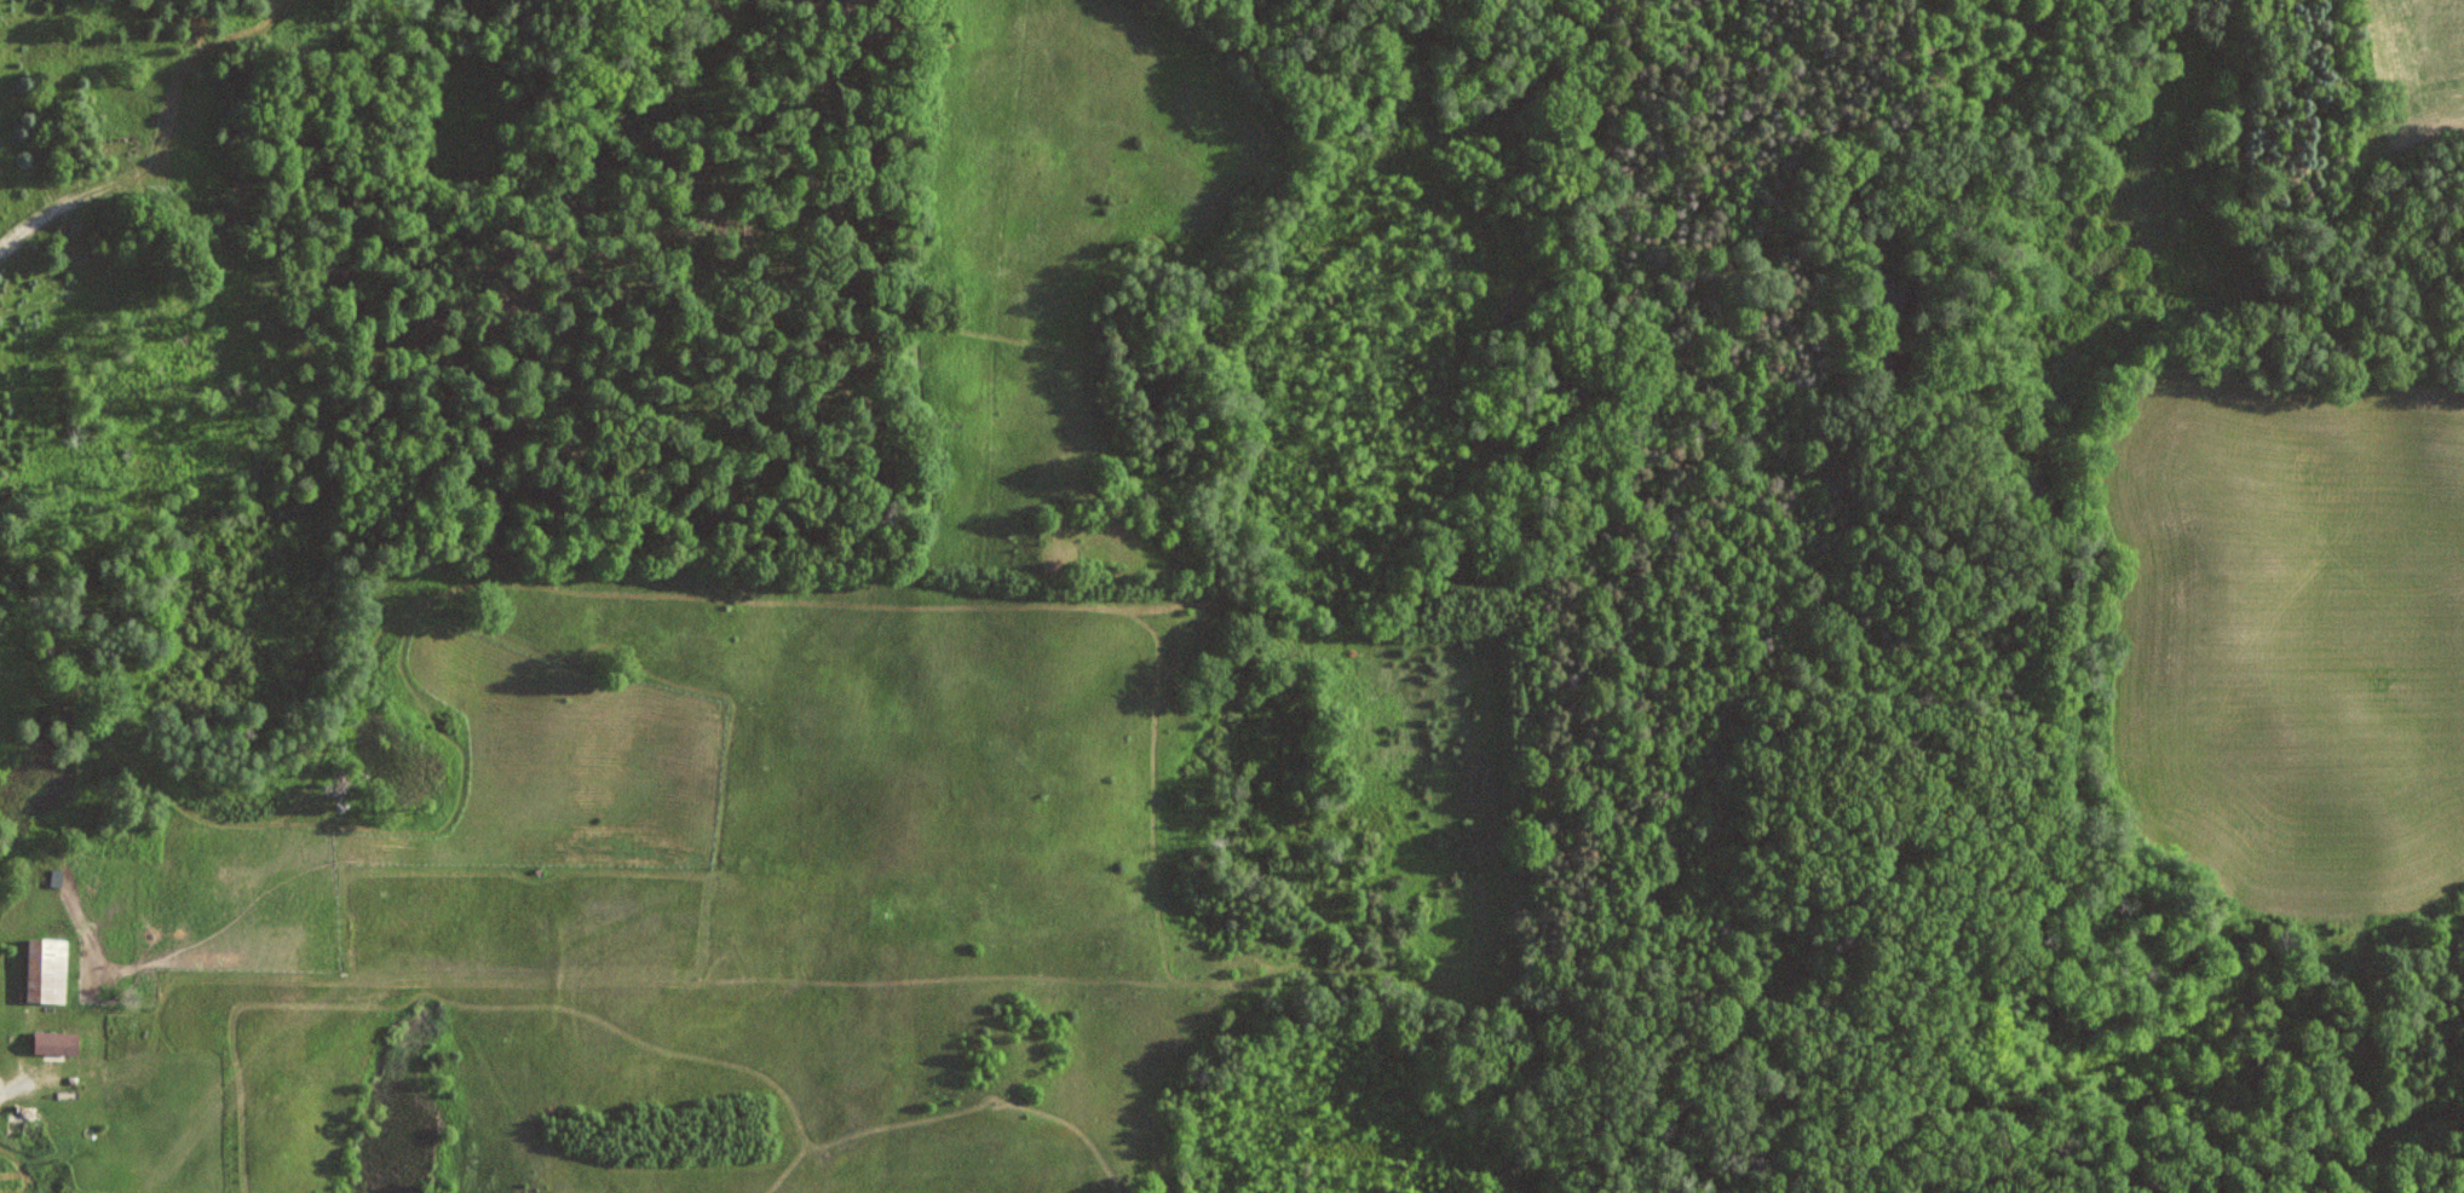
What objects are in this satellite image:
building: (48, 970)
building: (57, 1043)

